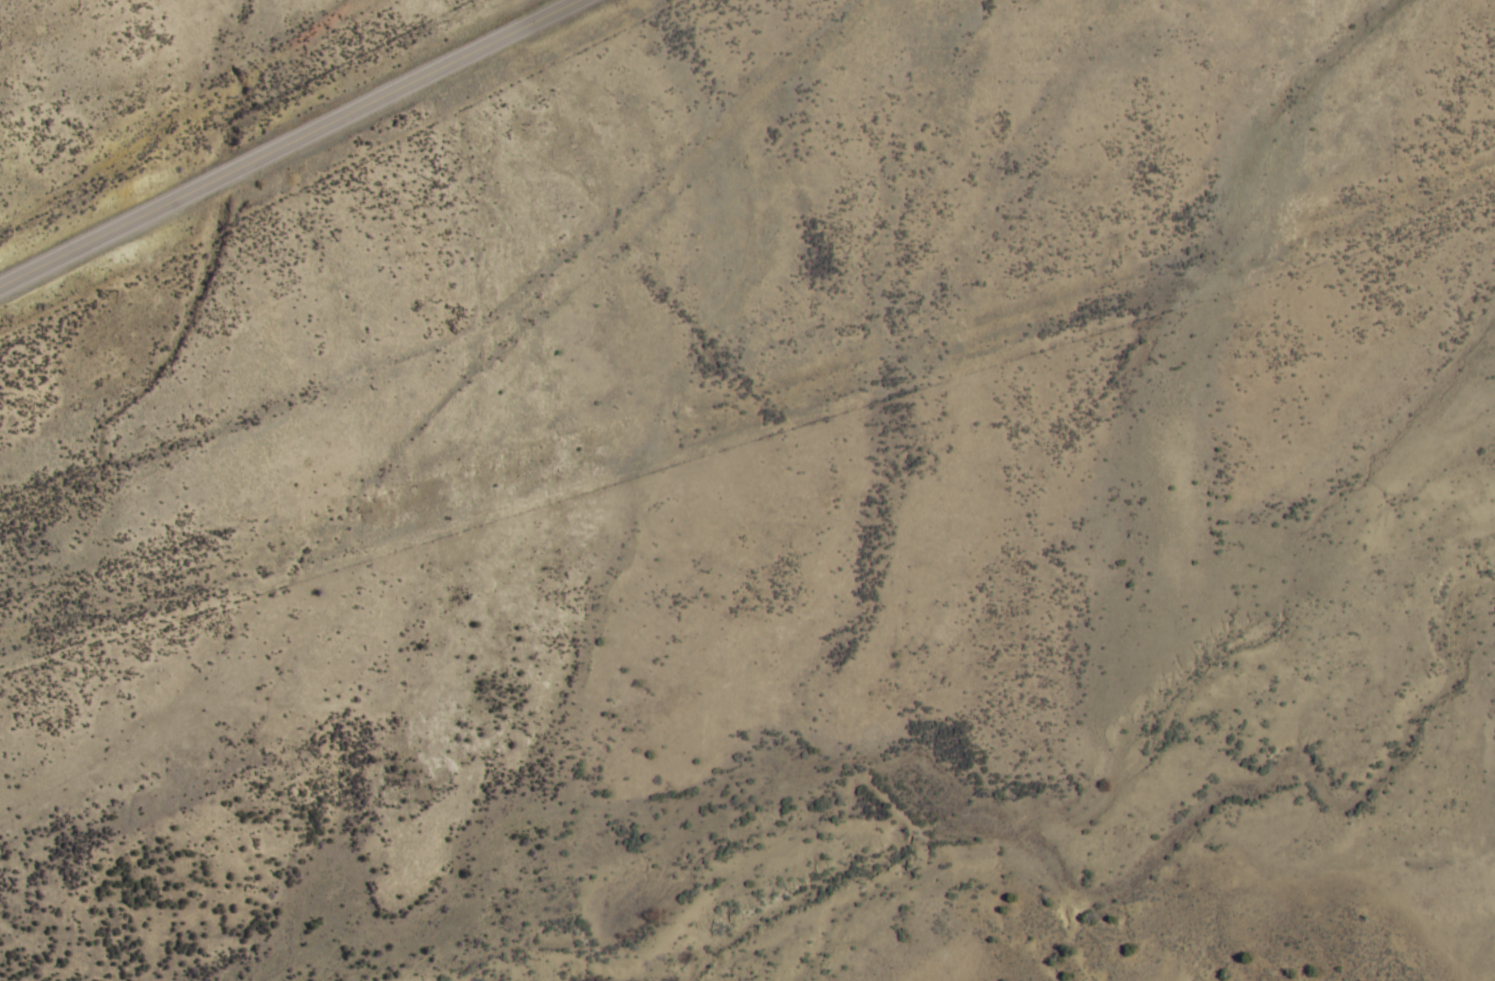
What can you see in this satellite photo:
road: (286, 142)
airport runway: (747, 401)

